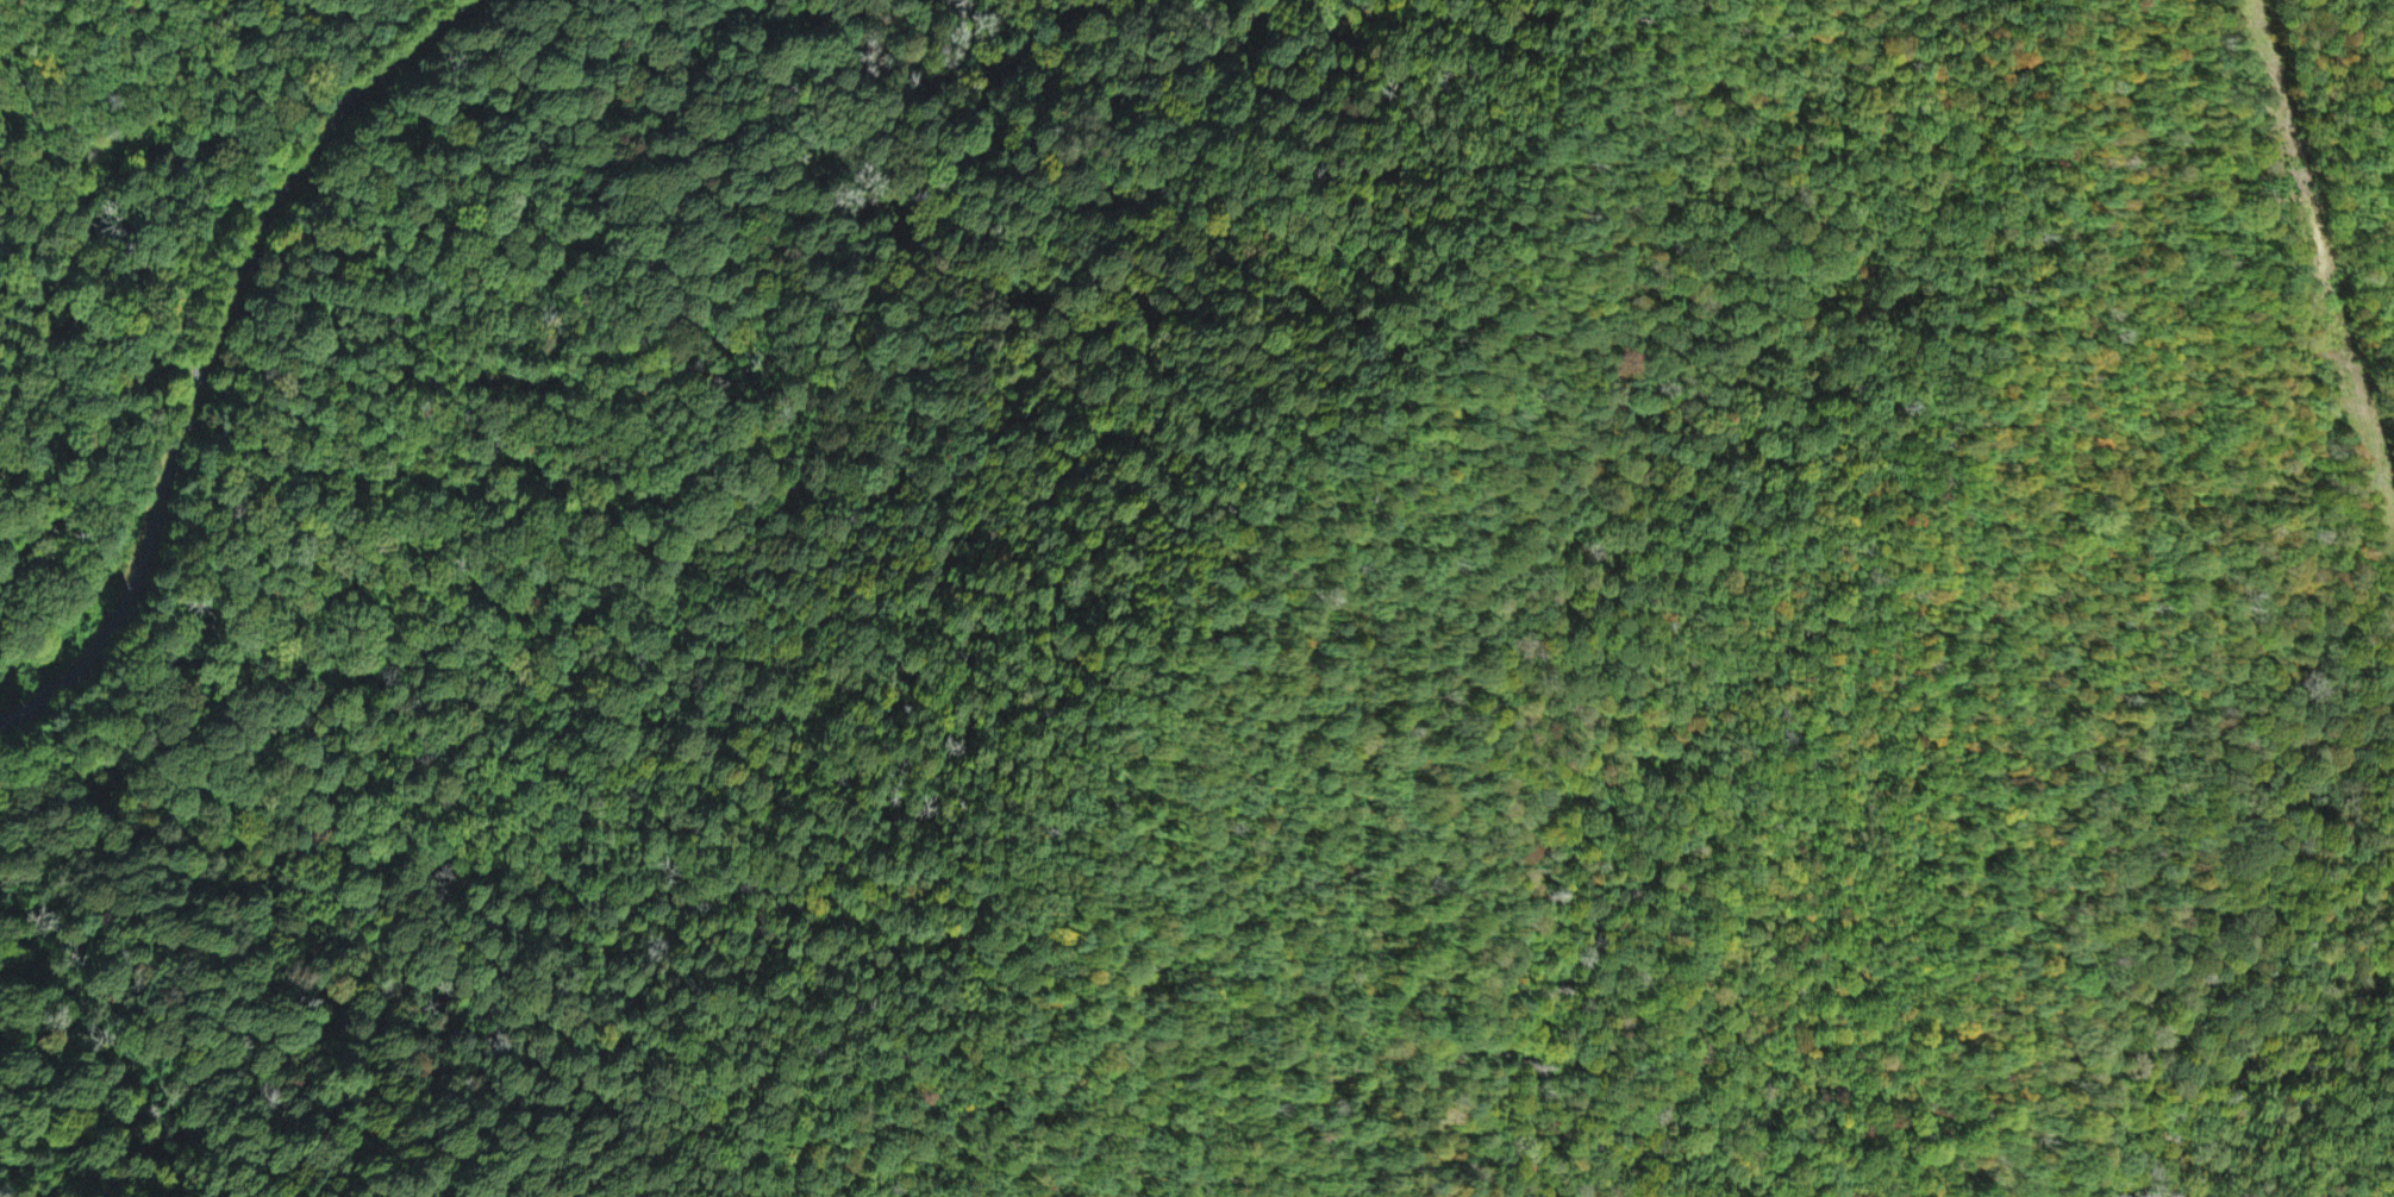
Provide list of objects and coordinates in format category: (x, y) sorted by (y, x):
road: (207, 349)

